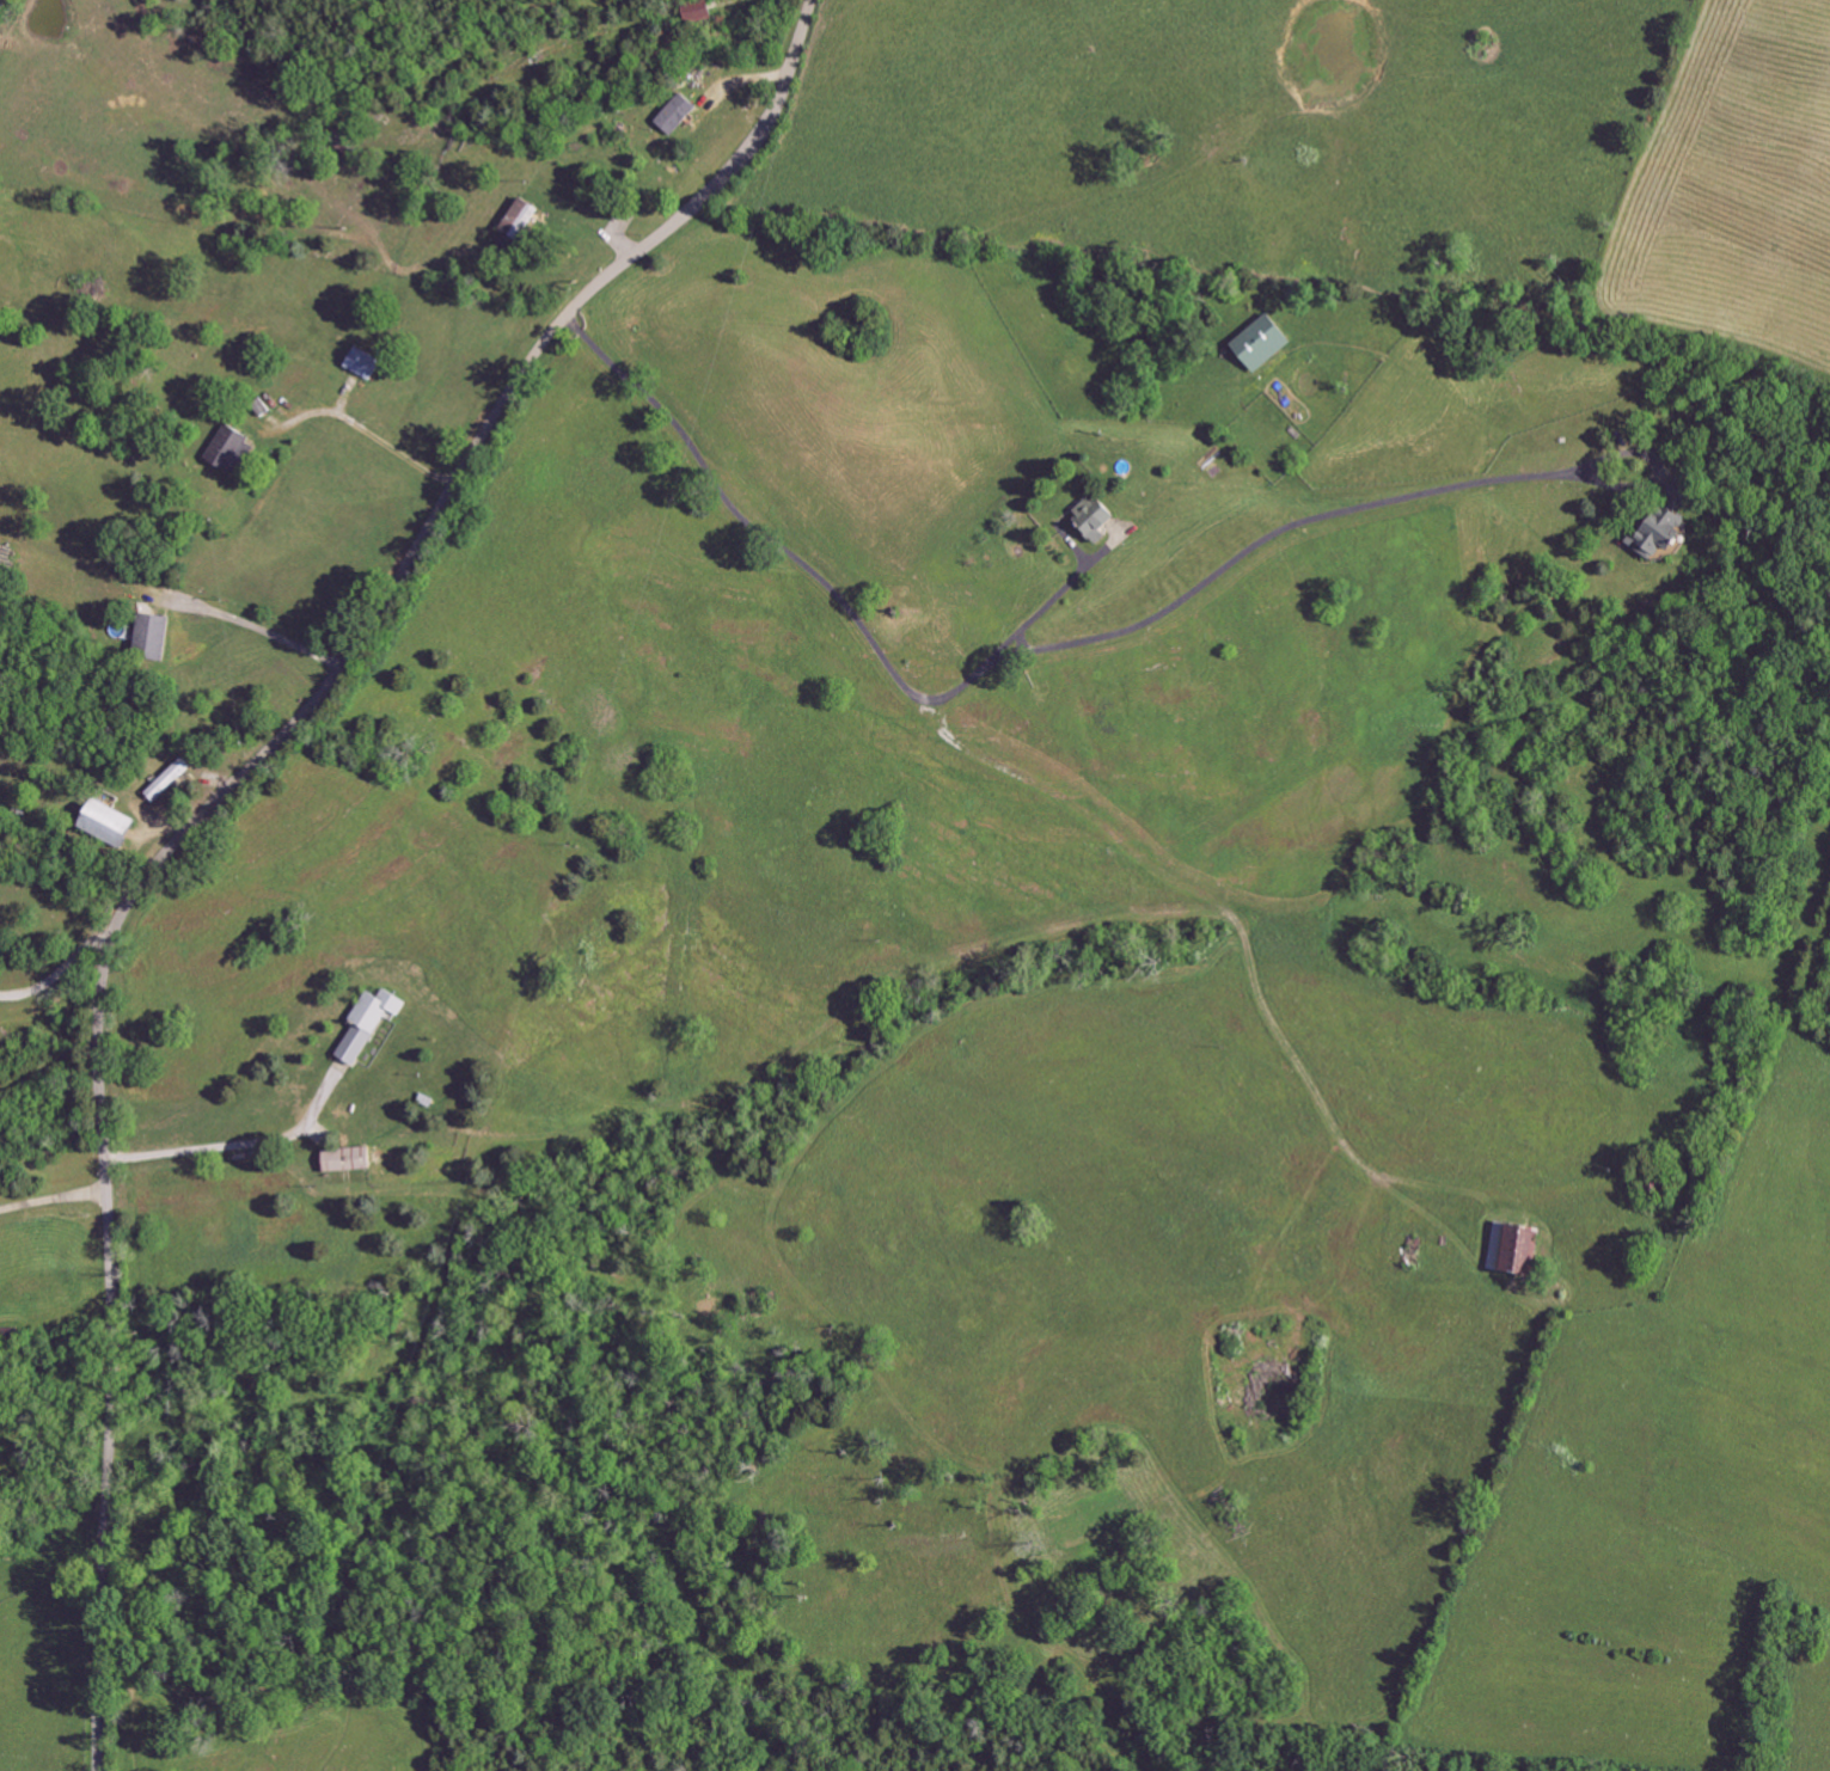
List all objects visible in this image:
building: (699, 12)
building: (680, 115)
building: (522, 219)
road: (580, 251)
building: (1267, 343)
building: (366, 364)
road: (361, 436)
building: (1101, 517)
building: (1669, 527)
road: (1053, 599)
road: (263, 631)
building: (155, 637)
road: (1027, 652)
building: (175, 780)
road: (220, 802)
building: (116, 826)
road: (60, 972)
building: (372, 1024)
road: (239, 1146)
building: (353, 1160)
road: (53, 1199)
building: (1520, 1250)

